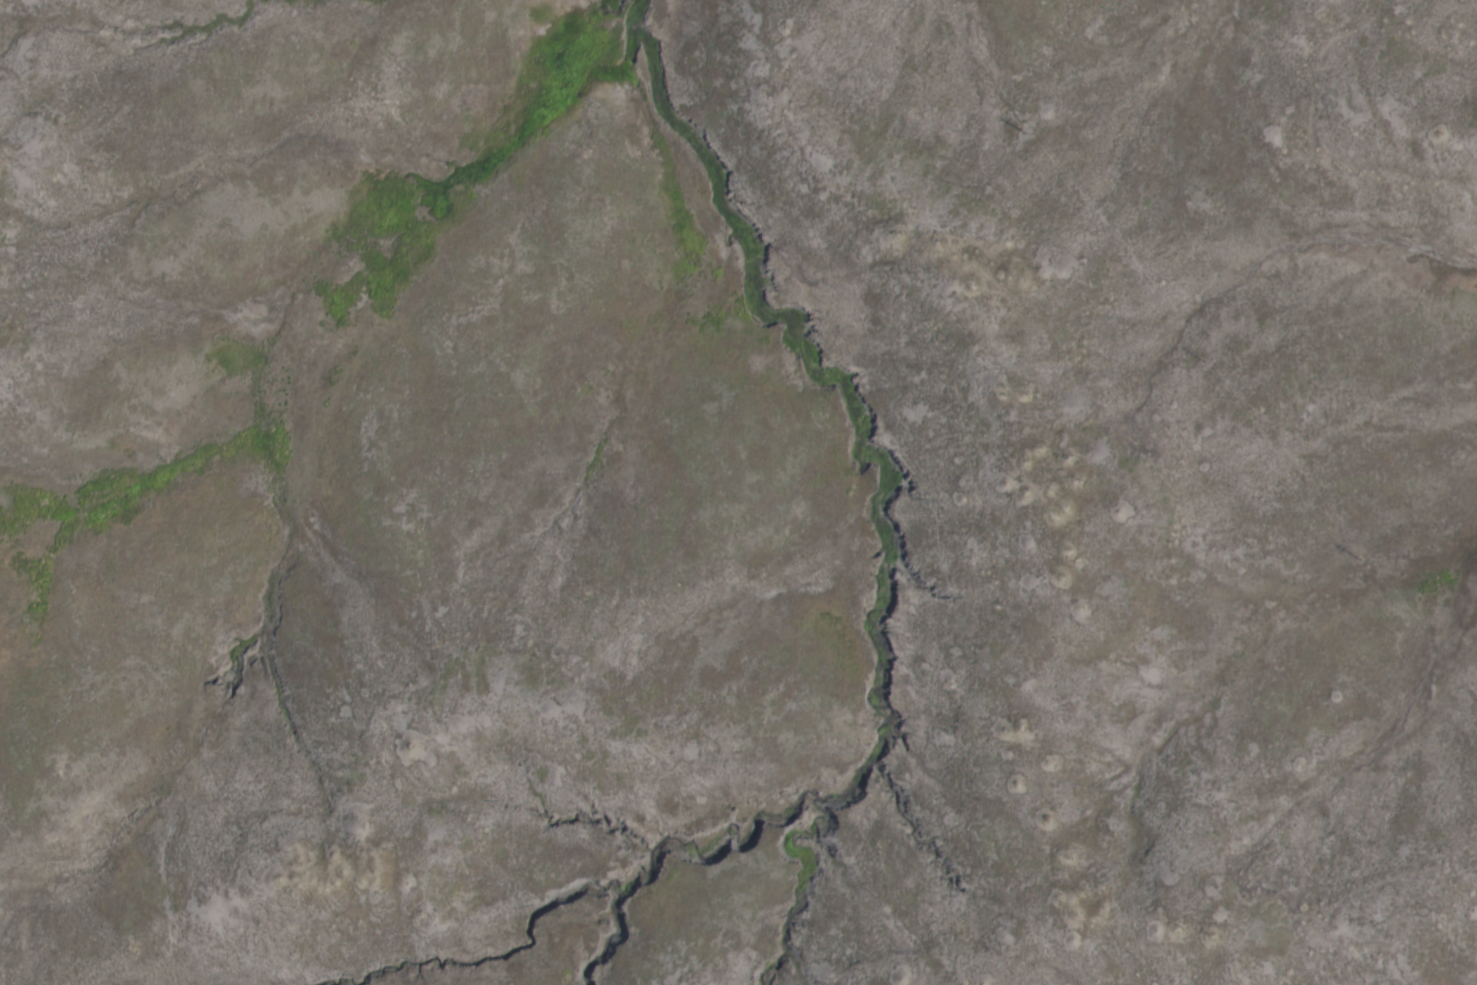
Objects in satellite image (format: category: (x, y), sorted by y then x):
power tower: (1031, 136)
power tower: (1211, 364)
power tower: (1368, 560)

